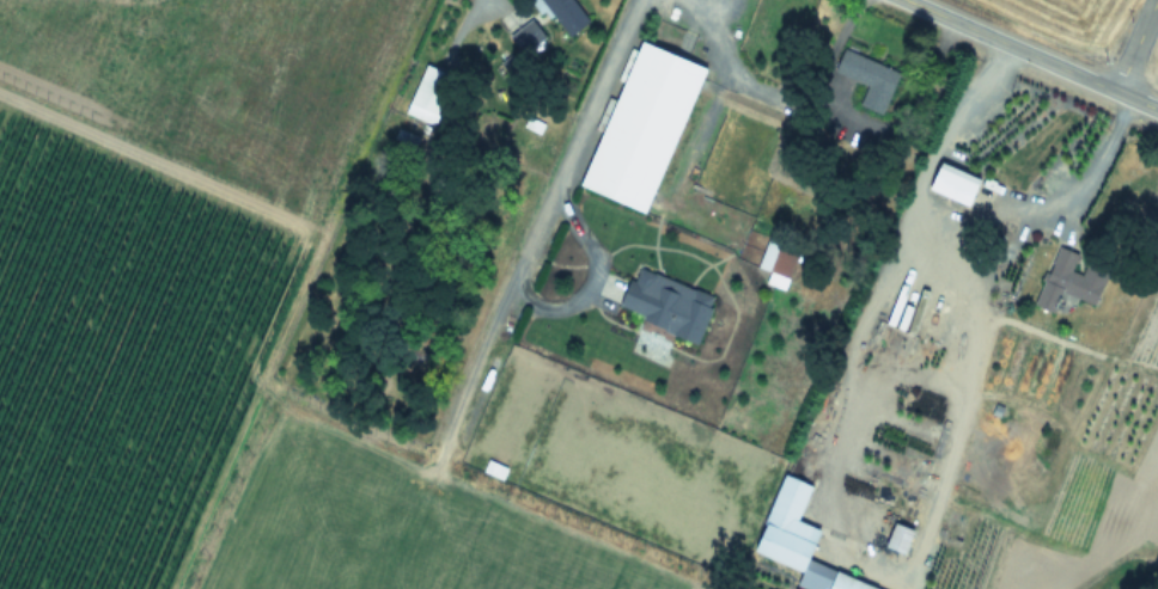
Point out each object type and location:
building: (561, 16)
crop: (1099, 25)
building: (524, 37)
road: (1134, 45)
road: (1031, 55)
road: (827, 57)
road: (725, 74)
building: (866, 80)
building: (426, 94)
road: (589, 103)
building: (636, 128)
building: (951, 183)
road: (959, 213)
building: (775, 263)
building: (1063, 287)
crop: (560, 303)
building: (918, 465)
building: (792, 538)
building: (895, 539)
road: (908, 558)

